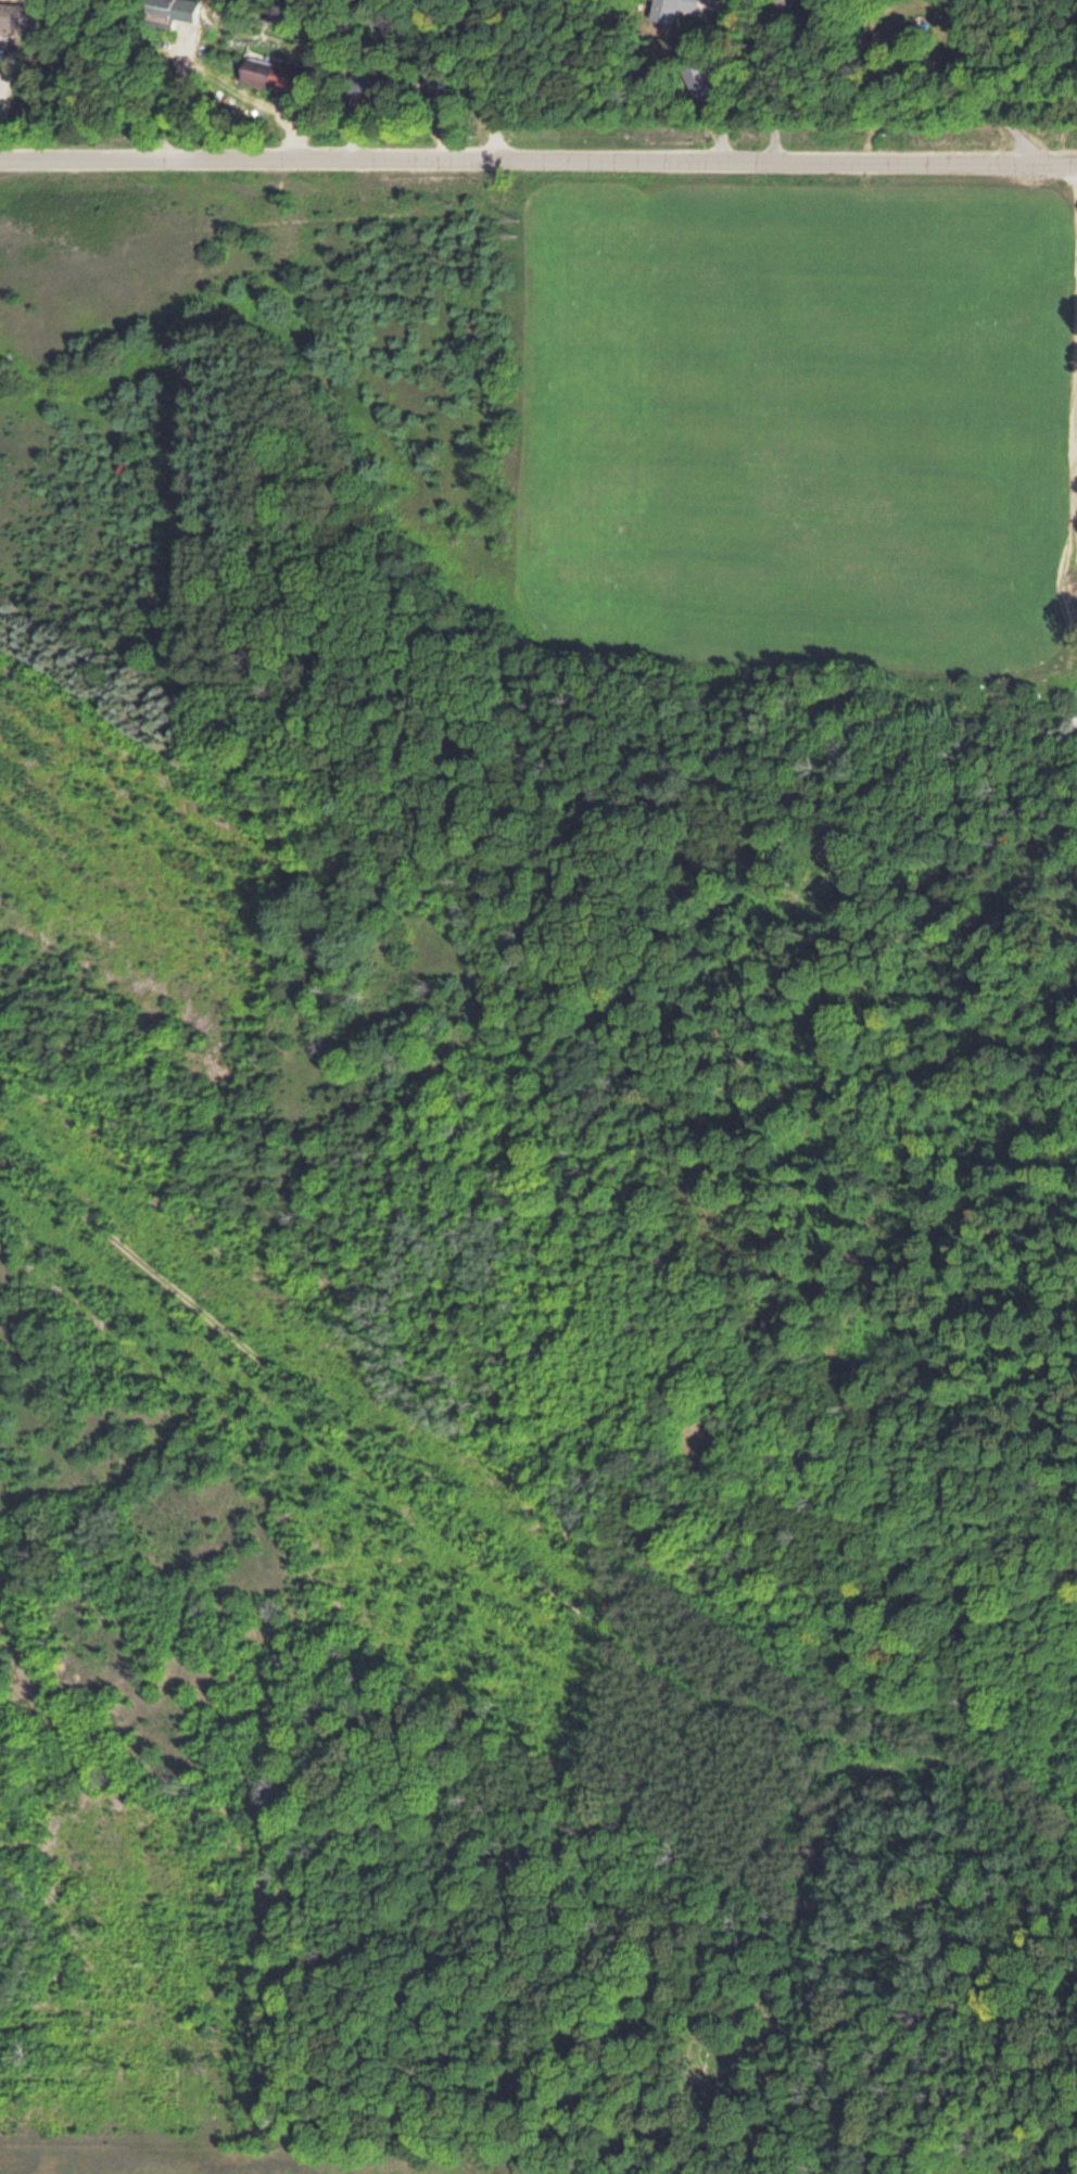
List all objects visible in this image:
building: (159, 7)
building: (670, 7)
building: (16, 15)
building: (265, 73)
building: (696, 77)
building: (358, 86)
road: (538, 151)

